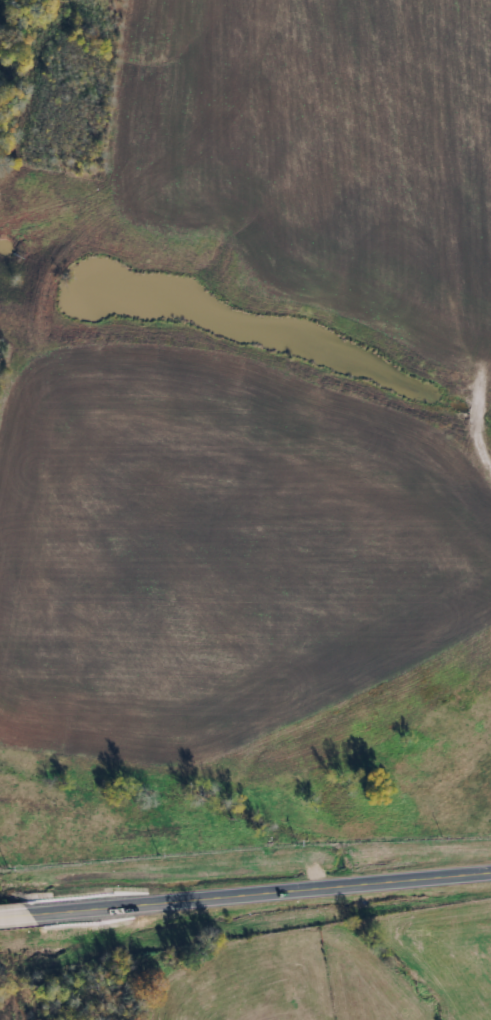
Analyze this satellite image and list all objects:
road: (245, 894)

